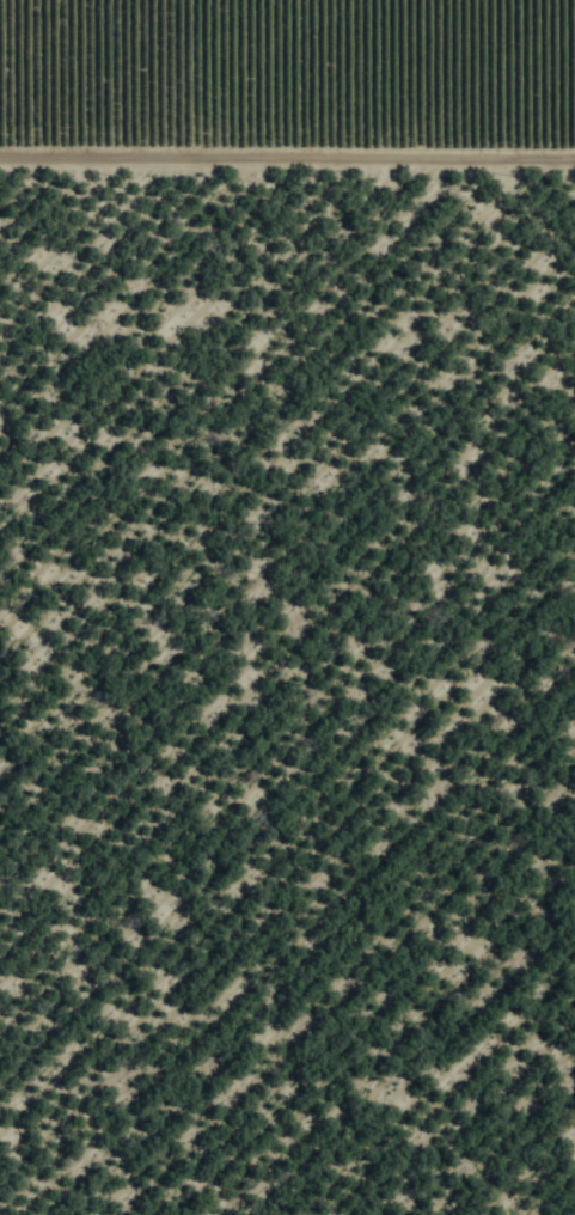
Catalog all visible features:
crop: (287, 84)
road: (287, 123)

